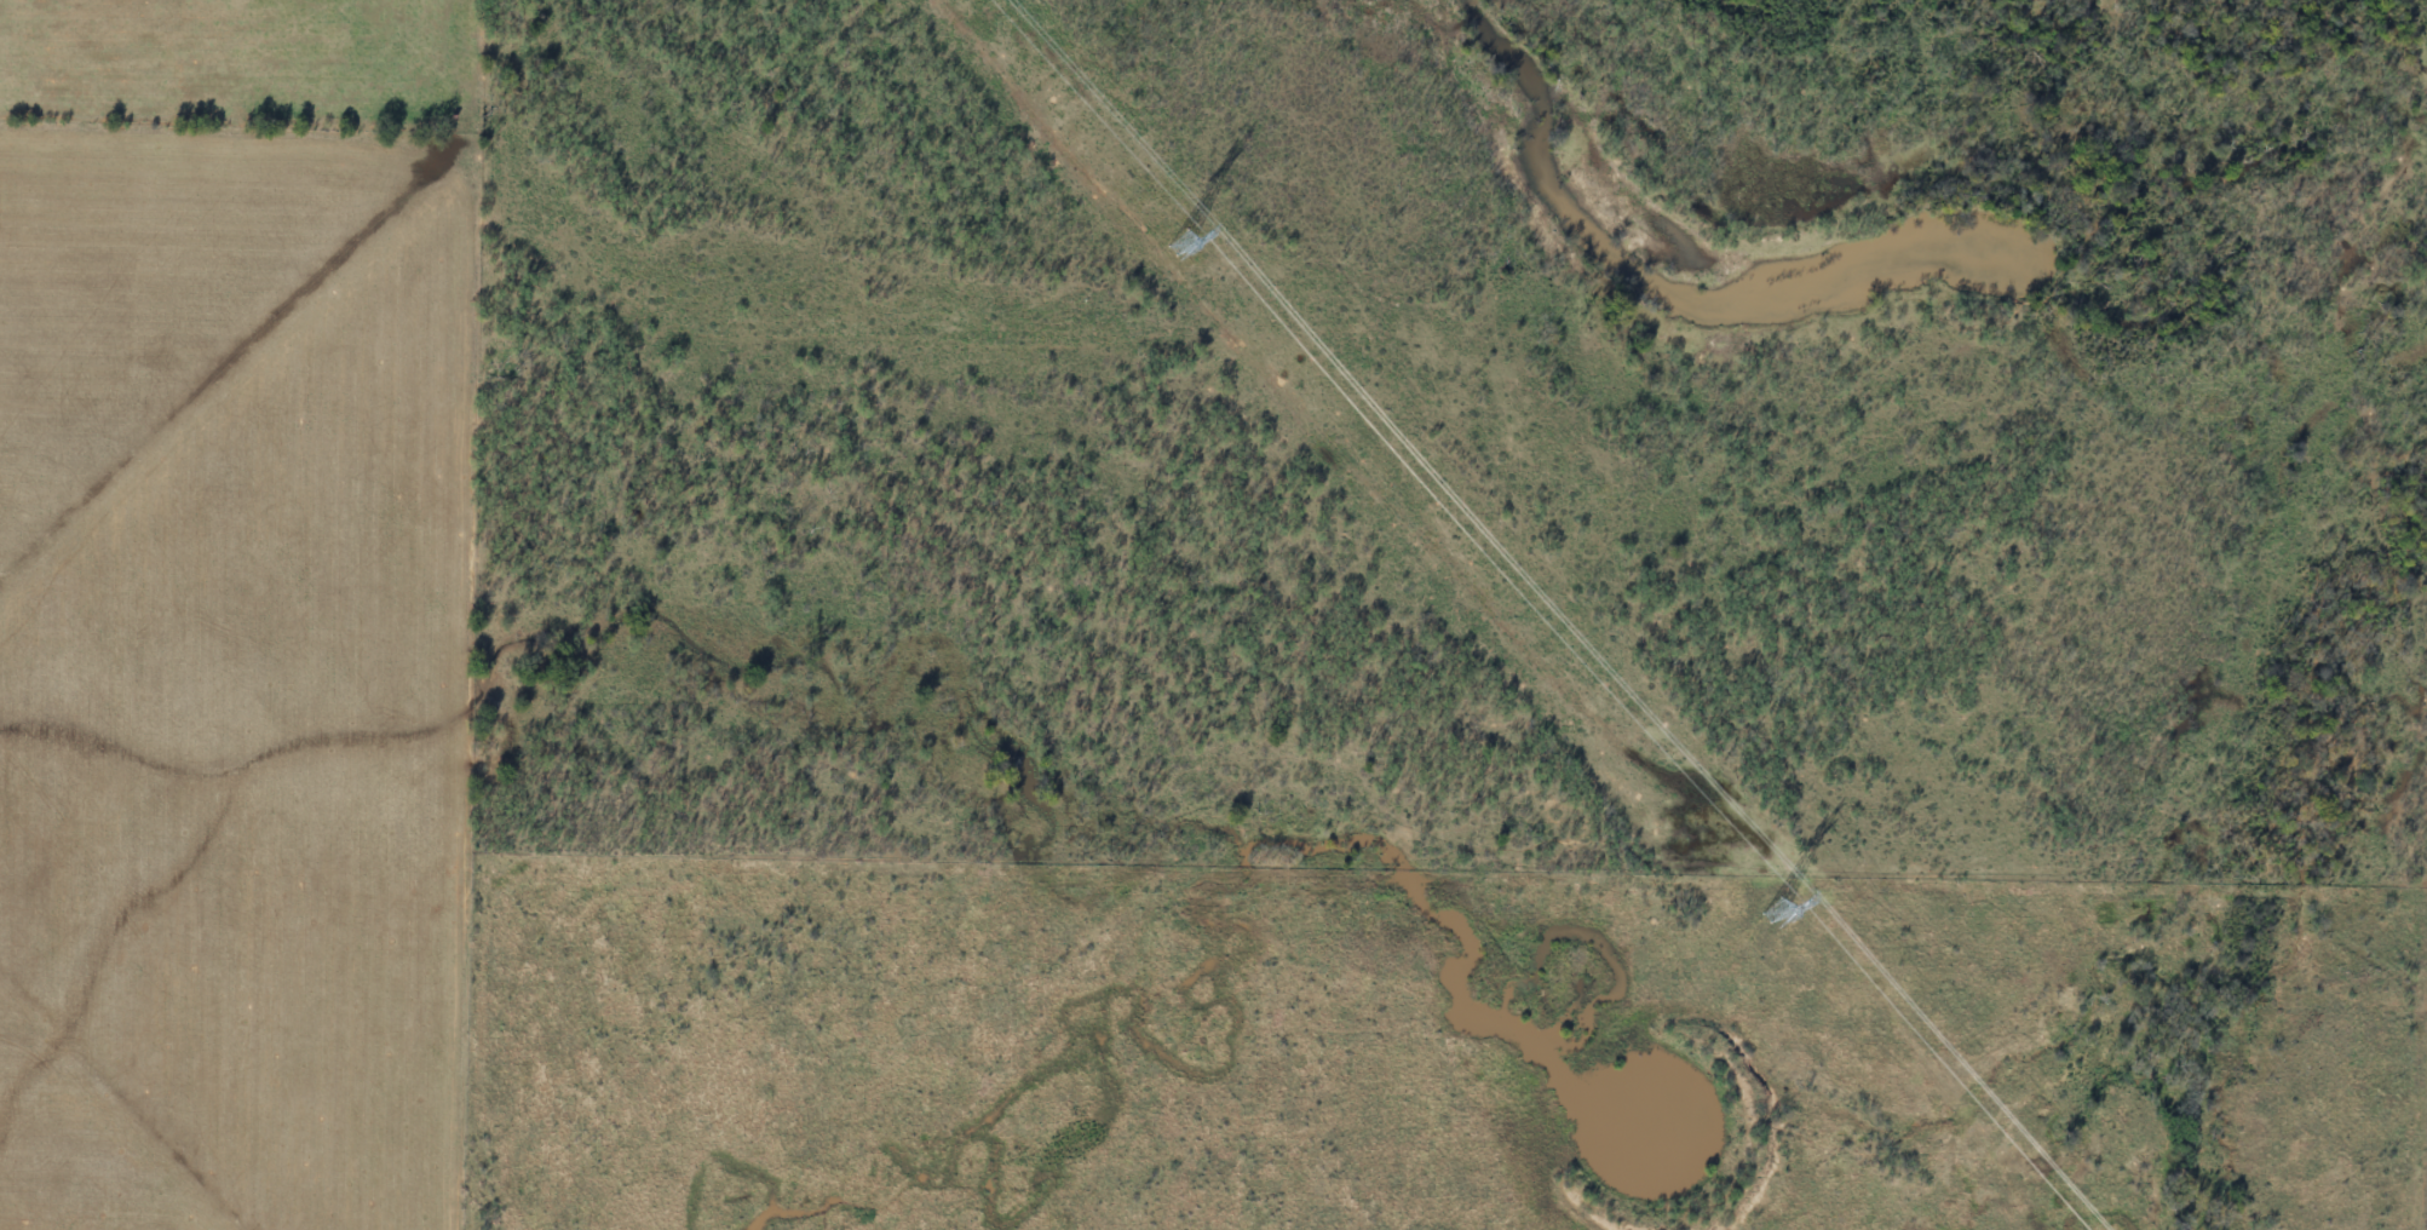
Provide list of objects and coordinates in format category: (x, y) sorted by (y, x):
power tower: (1181, 242)
power tower: (1776, 913)

